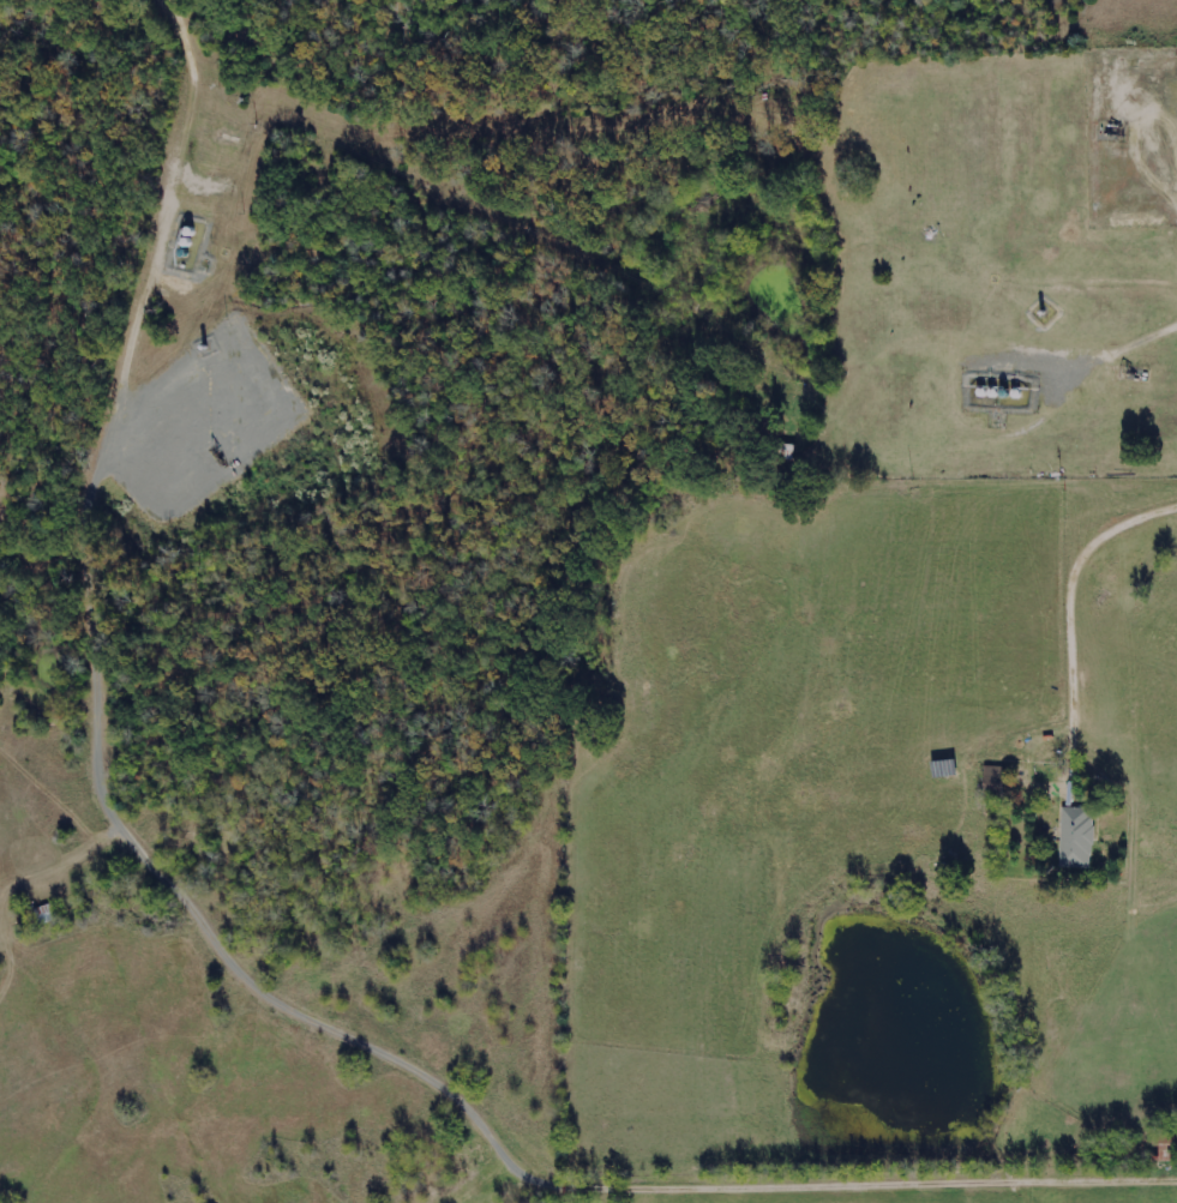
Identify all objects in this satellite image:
building: (992, 780)
building: (1076, 838)
road: (1142, 1159)

